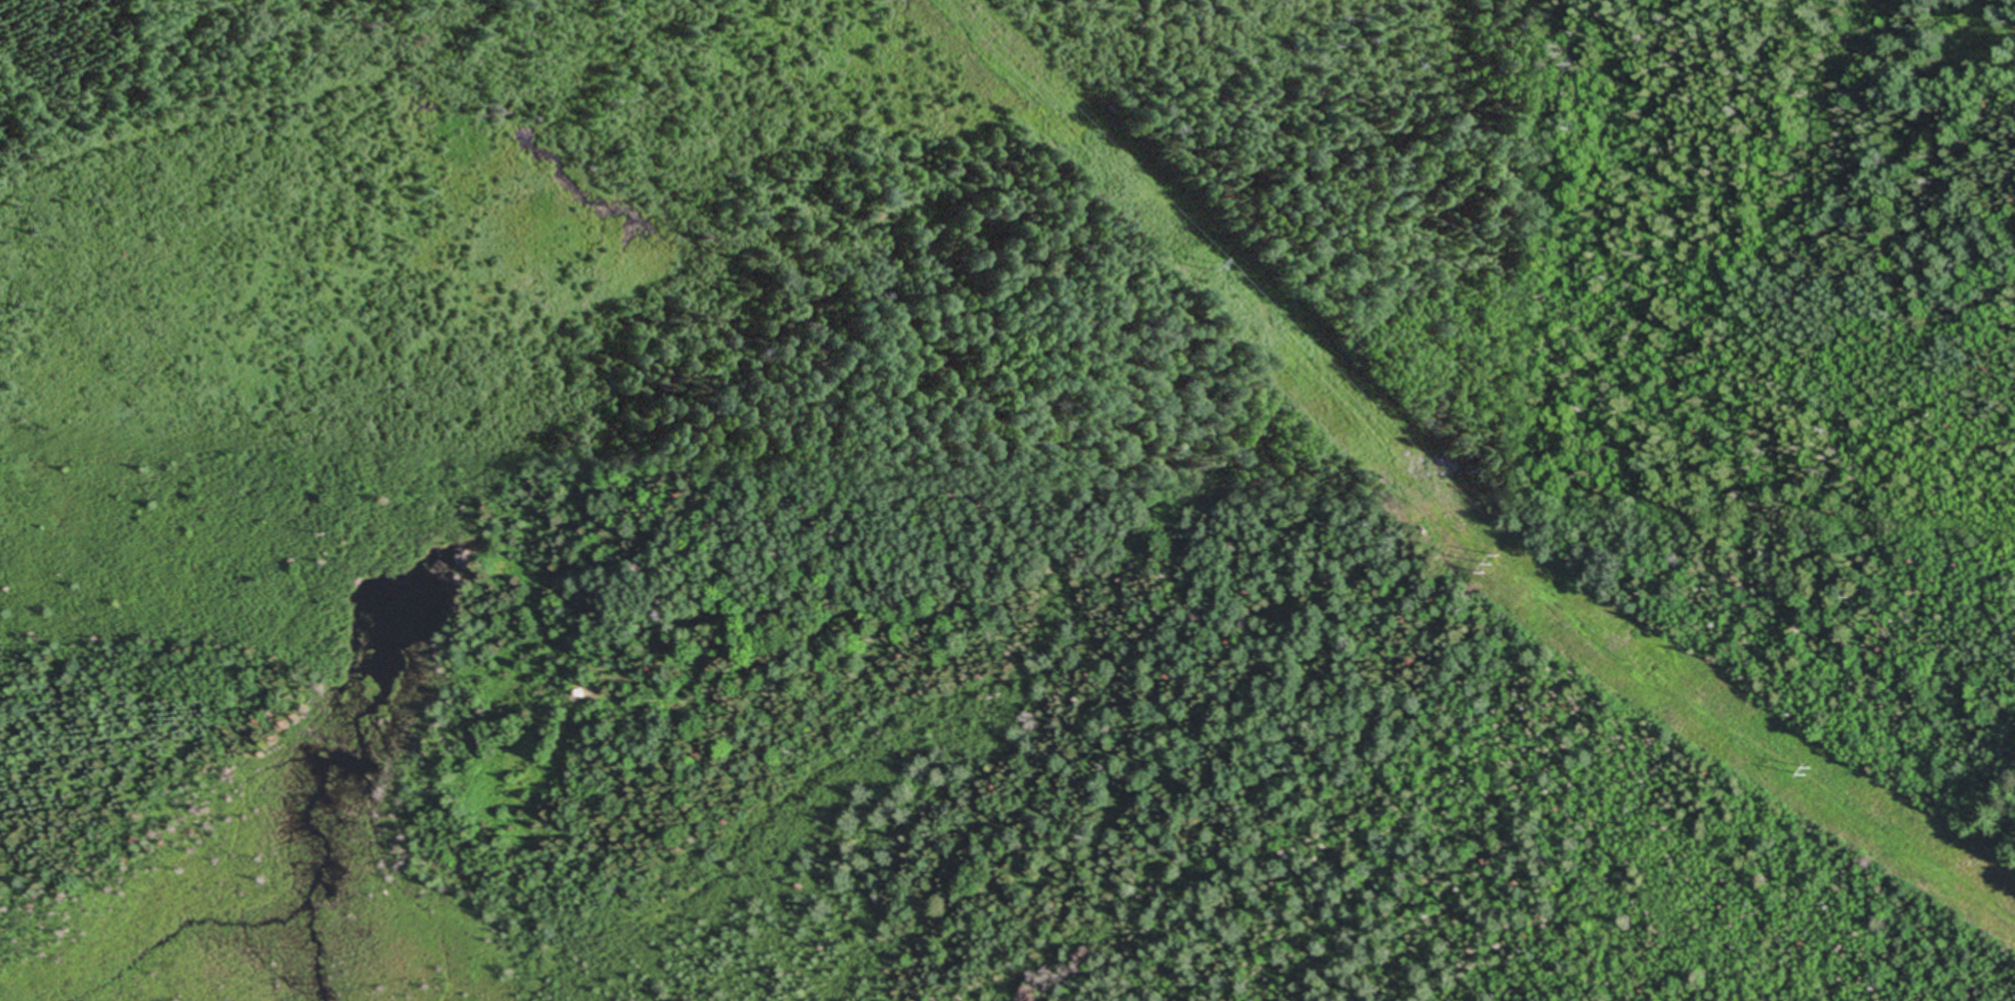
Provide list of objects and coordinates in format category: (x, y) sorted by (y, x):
power tower: (1206, 267)
power tower: (1491, 564)
power tower: (1807, 770)

